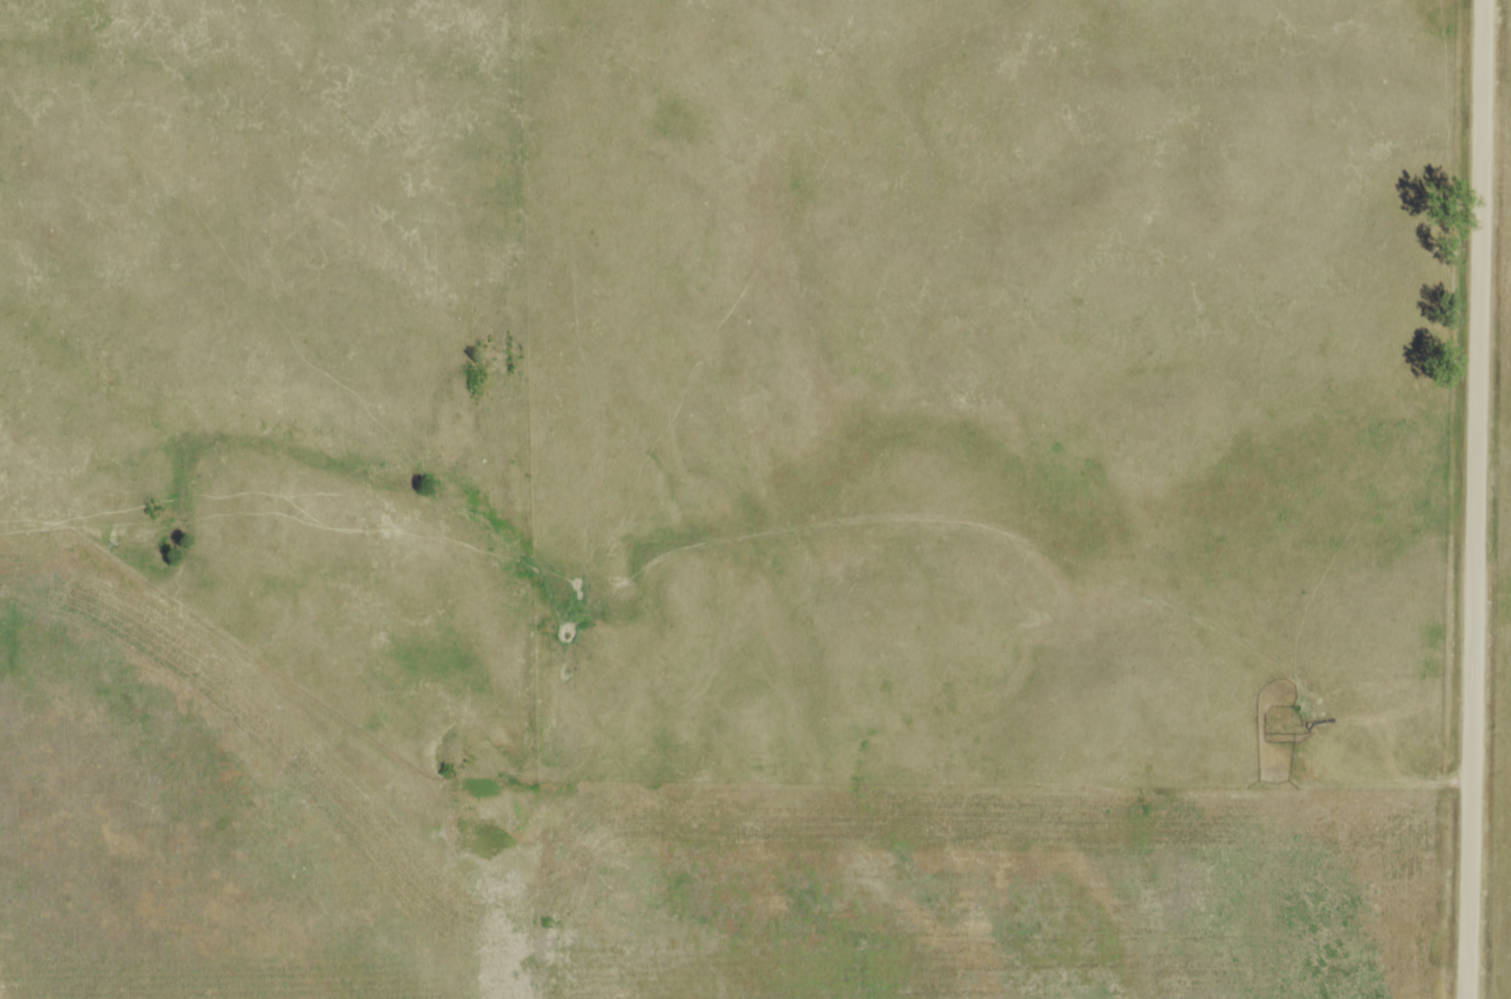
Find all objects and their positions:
road: (1476, 499)

